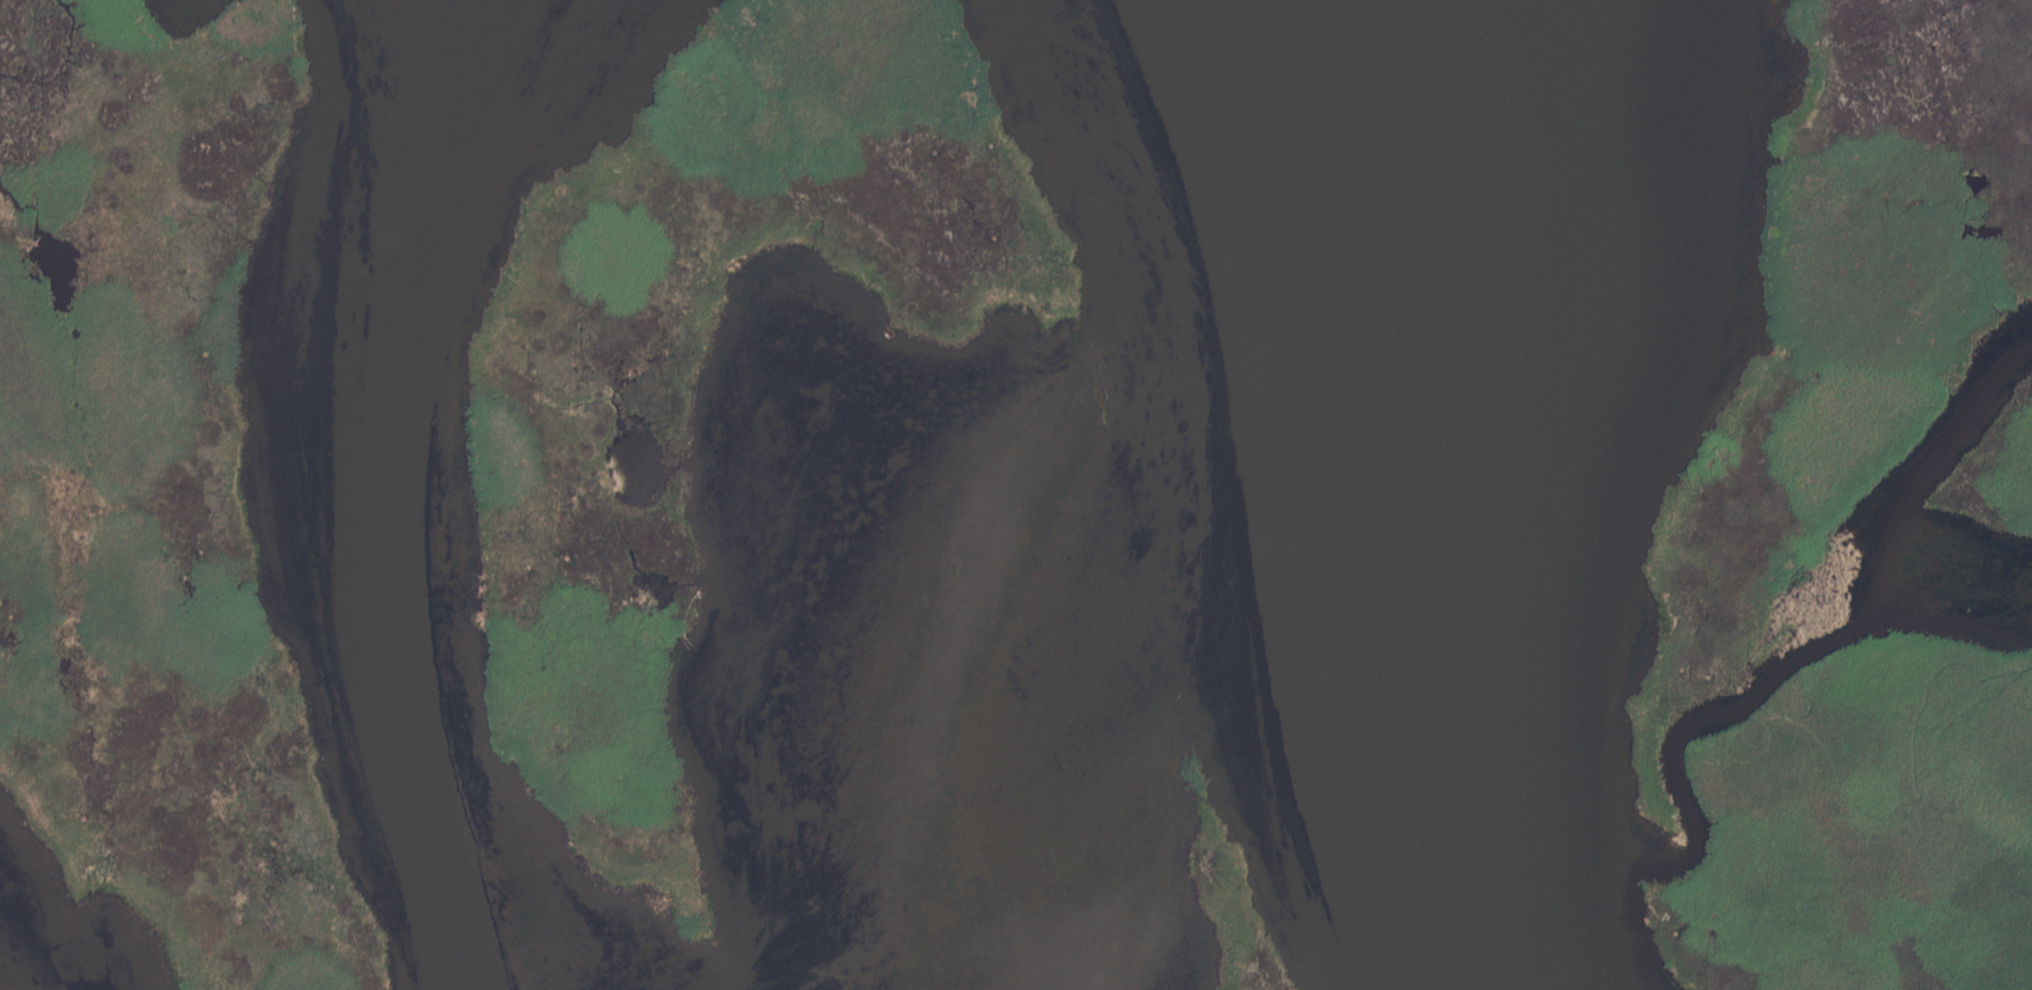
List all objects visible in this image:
river: (1438, 483)

